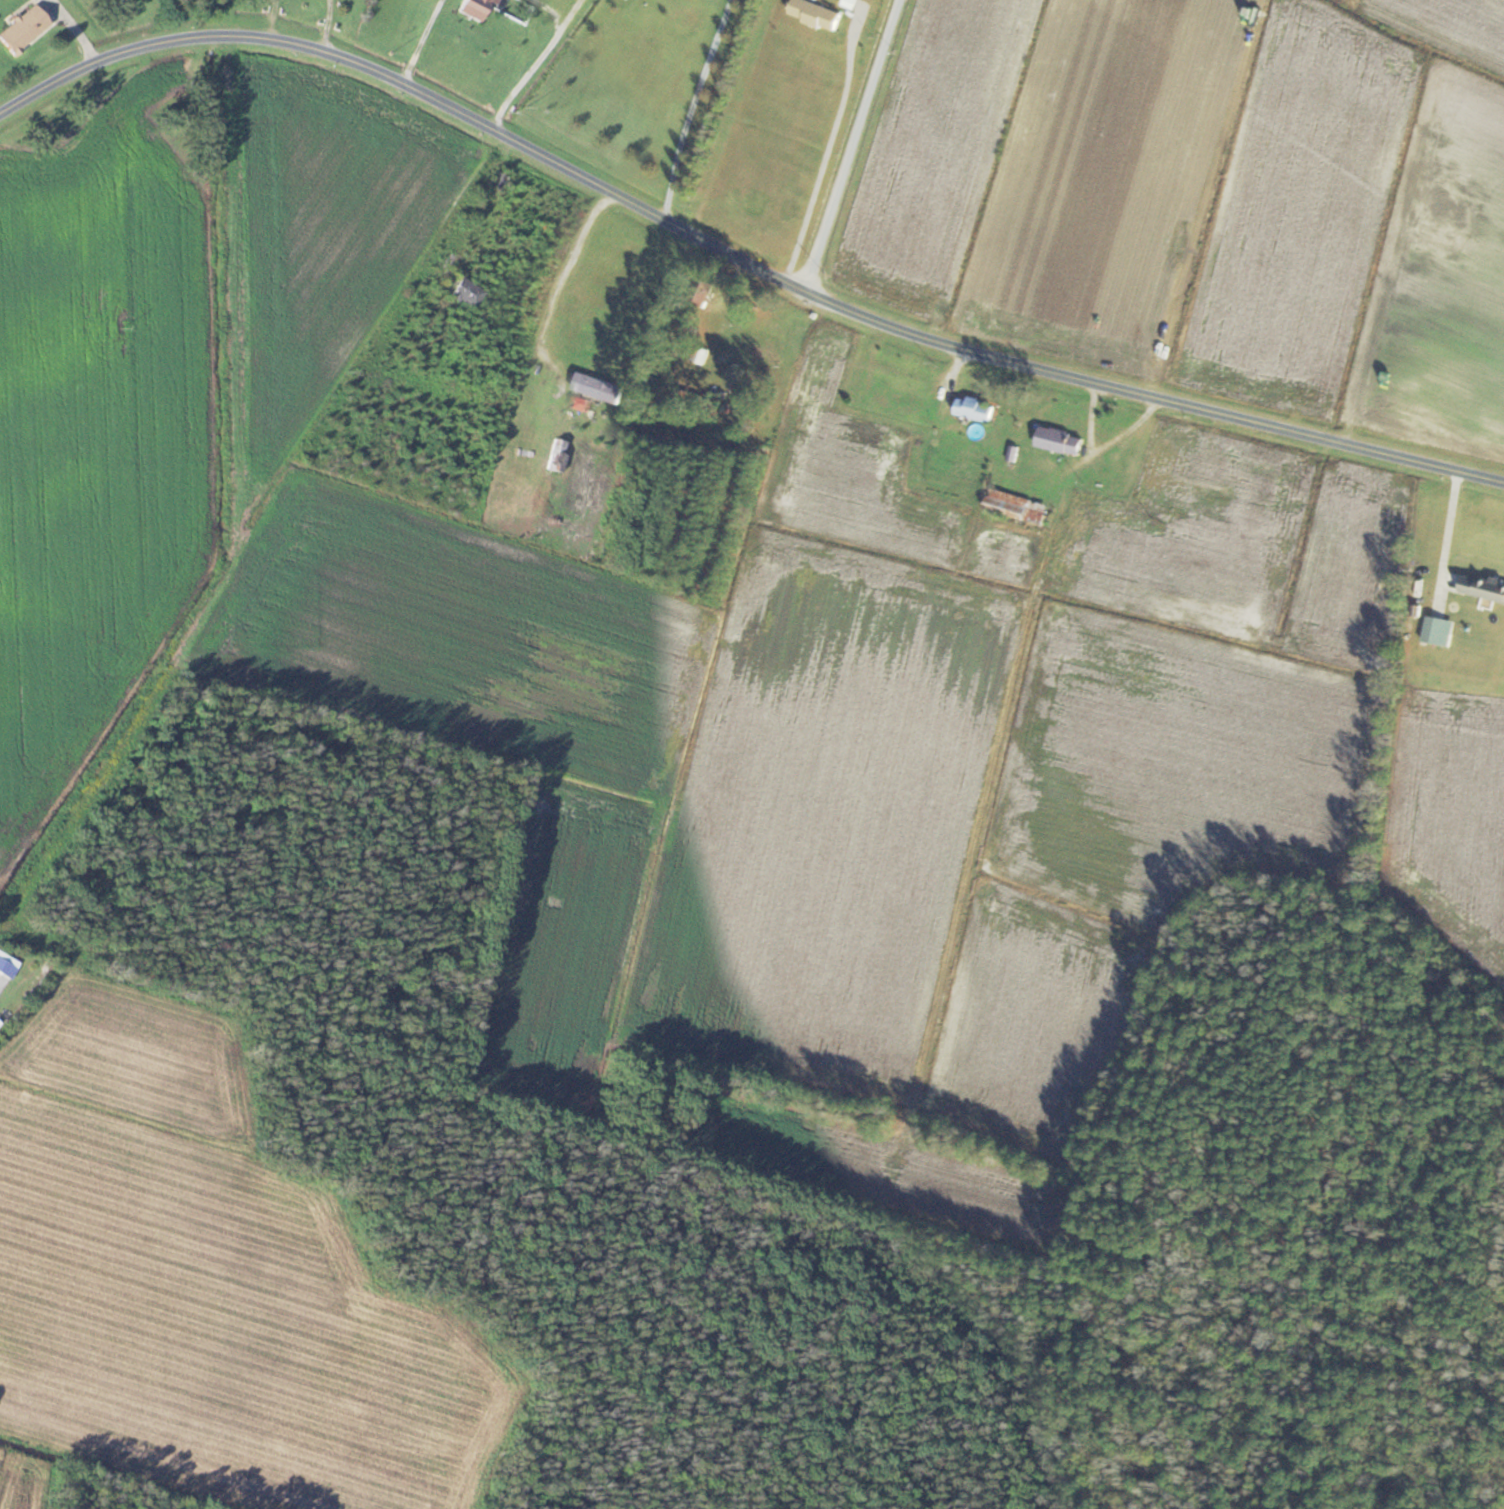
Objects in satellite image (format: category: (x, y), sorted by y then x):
building: (475, 8)
building: (817, 15)
building: (23, 29)
road: (71, 30)
road: (689, 105)
road: (852, 142)
building: (497, 178)
road: (732, 248)
road: (559, 278)
building: (462, 289)
building: (763, 353)
building: (702, 354)
building: (608, 374)
building: (976, 409)
building: (1112, 412)
building: (1061, 441)
building: (558, 455)
building: (1399, 500)
building: (1483, 586)

